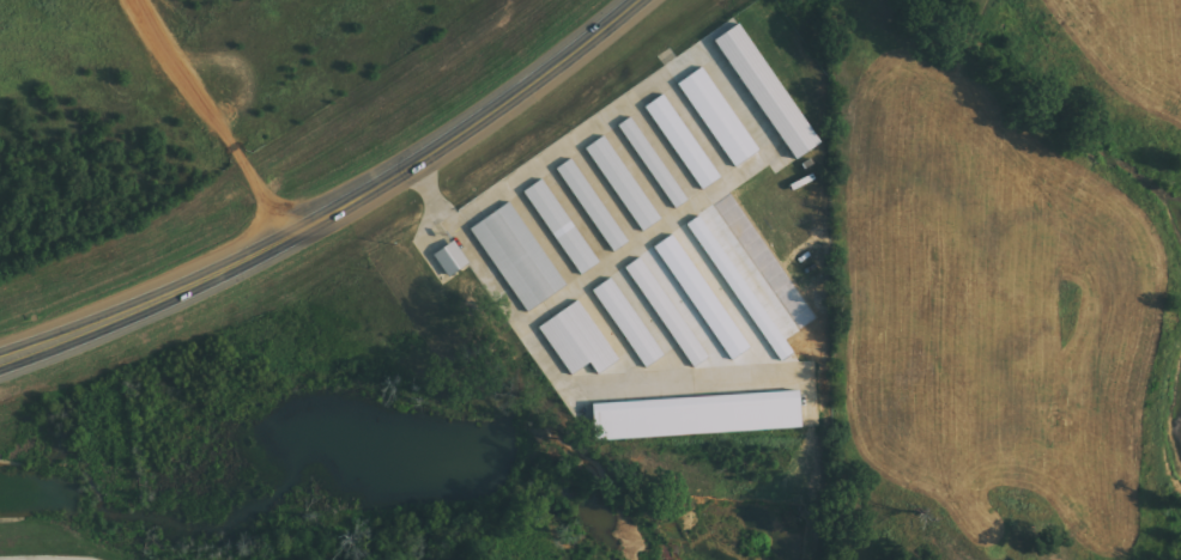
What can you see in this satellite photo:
building: (771, 91)
building: (721, 117)
building: (685, 142)
building: (654, 163)
building: (624, 183)
building: (594, 206)
road: (340, 213)
building: (564, 227)
building: (521, 257)
building: (454, 260)
building: (704, 298)
building: (668, 312)
building: (630, 323)
building: (580, 341)
building: (702, 415)

